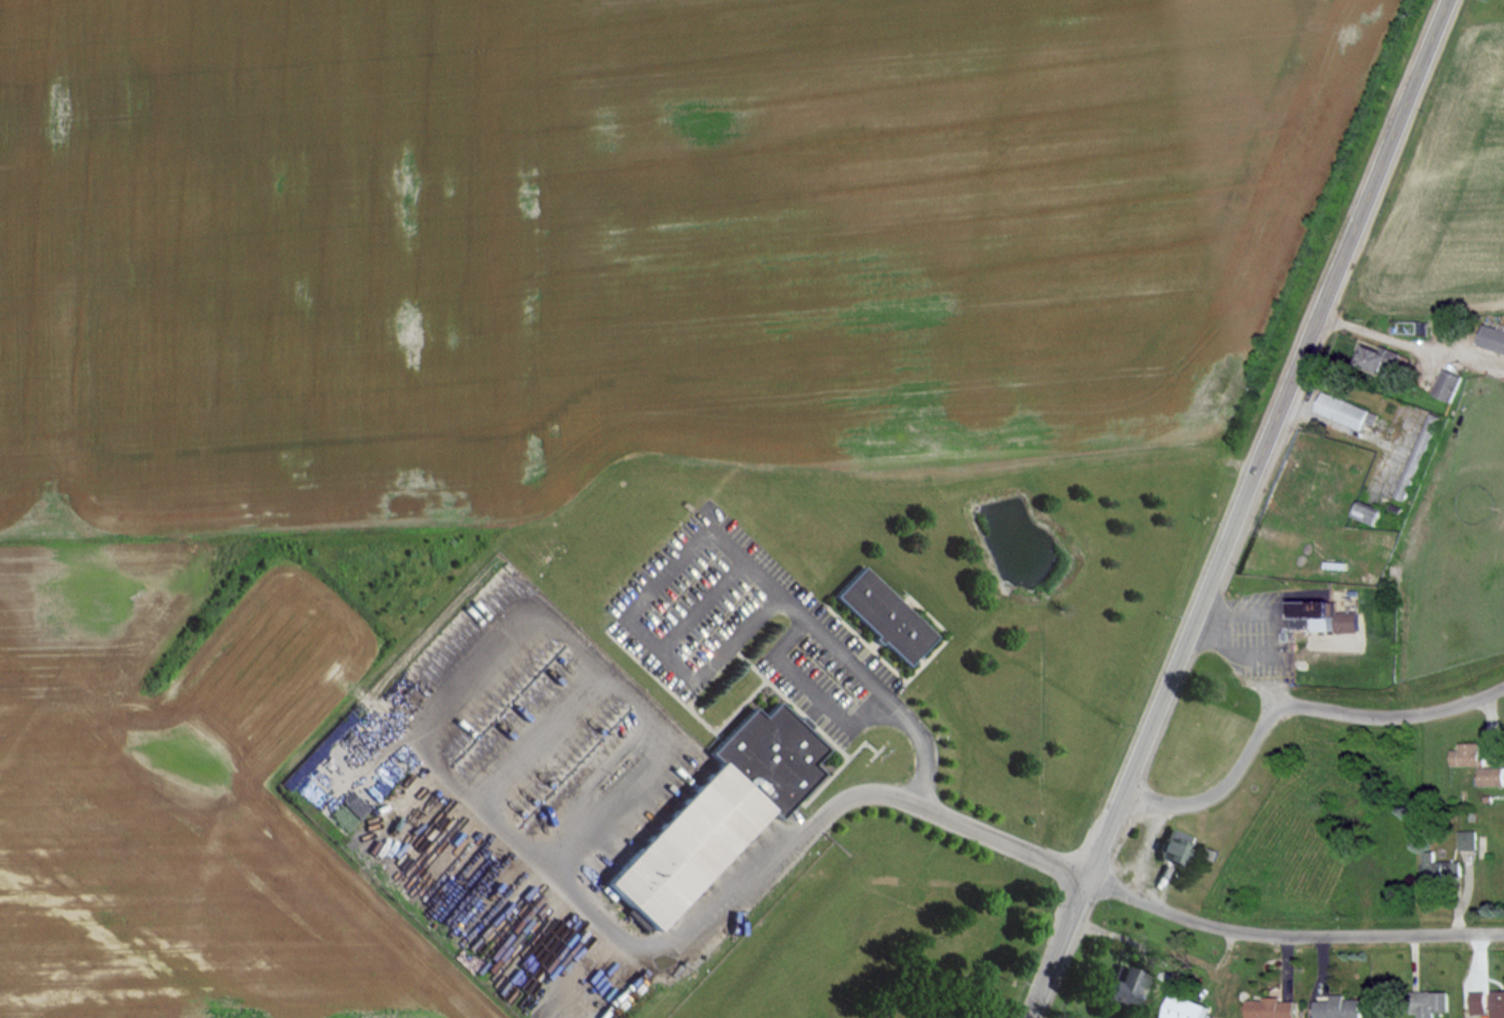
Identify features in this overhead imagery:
road: (1377, 332)
building: (1492, 337)
building: (1377, 357)
building: (1446, 384)
building: (1342, 410)
road: (1359, 433)
road: (1404, 435)
building: (1404, 484)
road: (1238, 508)
building: (1368, 512)
road: (719, 536)
building: (883, 615)
building: (1322, 616)
parking lot: (743, 624)
road: (1236, 658)
road: (1393, 716)
building: (1467, 754)
building: (1491, 775)
road: (1221, 788)
building: (717, 810)
building: (1468, 839)
building: (1172, 846)
building: (1440, 867)
road: (736, 896)
road: (1290, 932)
building: (1122, 985)
building: (1477, 1002)
building: (1432, 1003)
building: (1497, 1003)
building: (1338, 1007)
building: (1184, 1008)
building: (1270, 1008)

